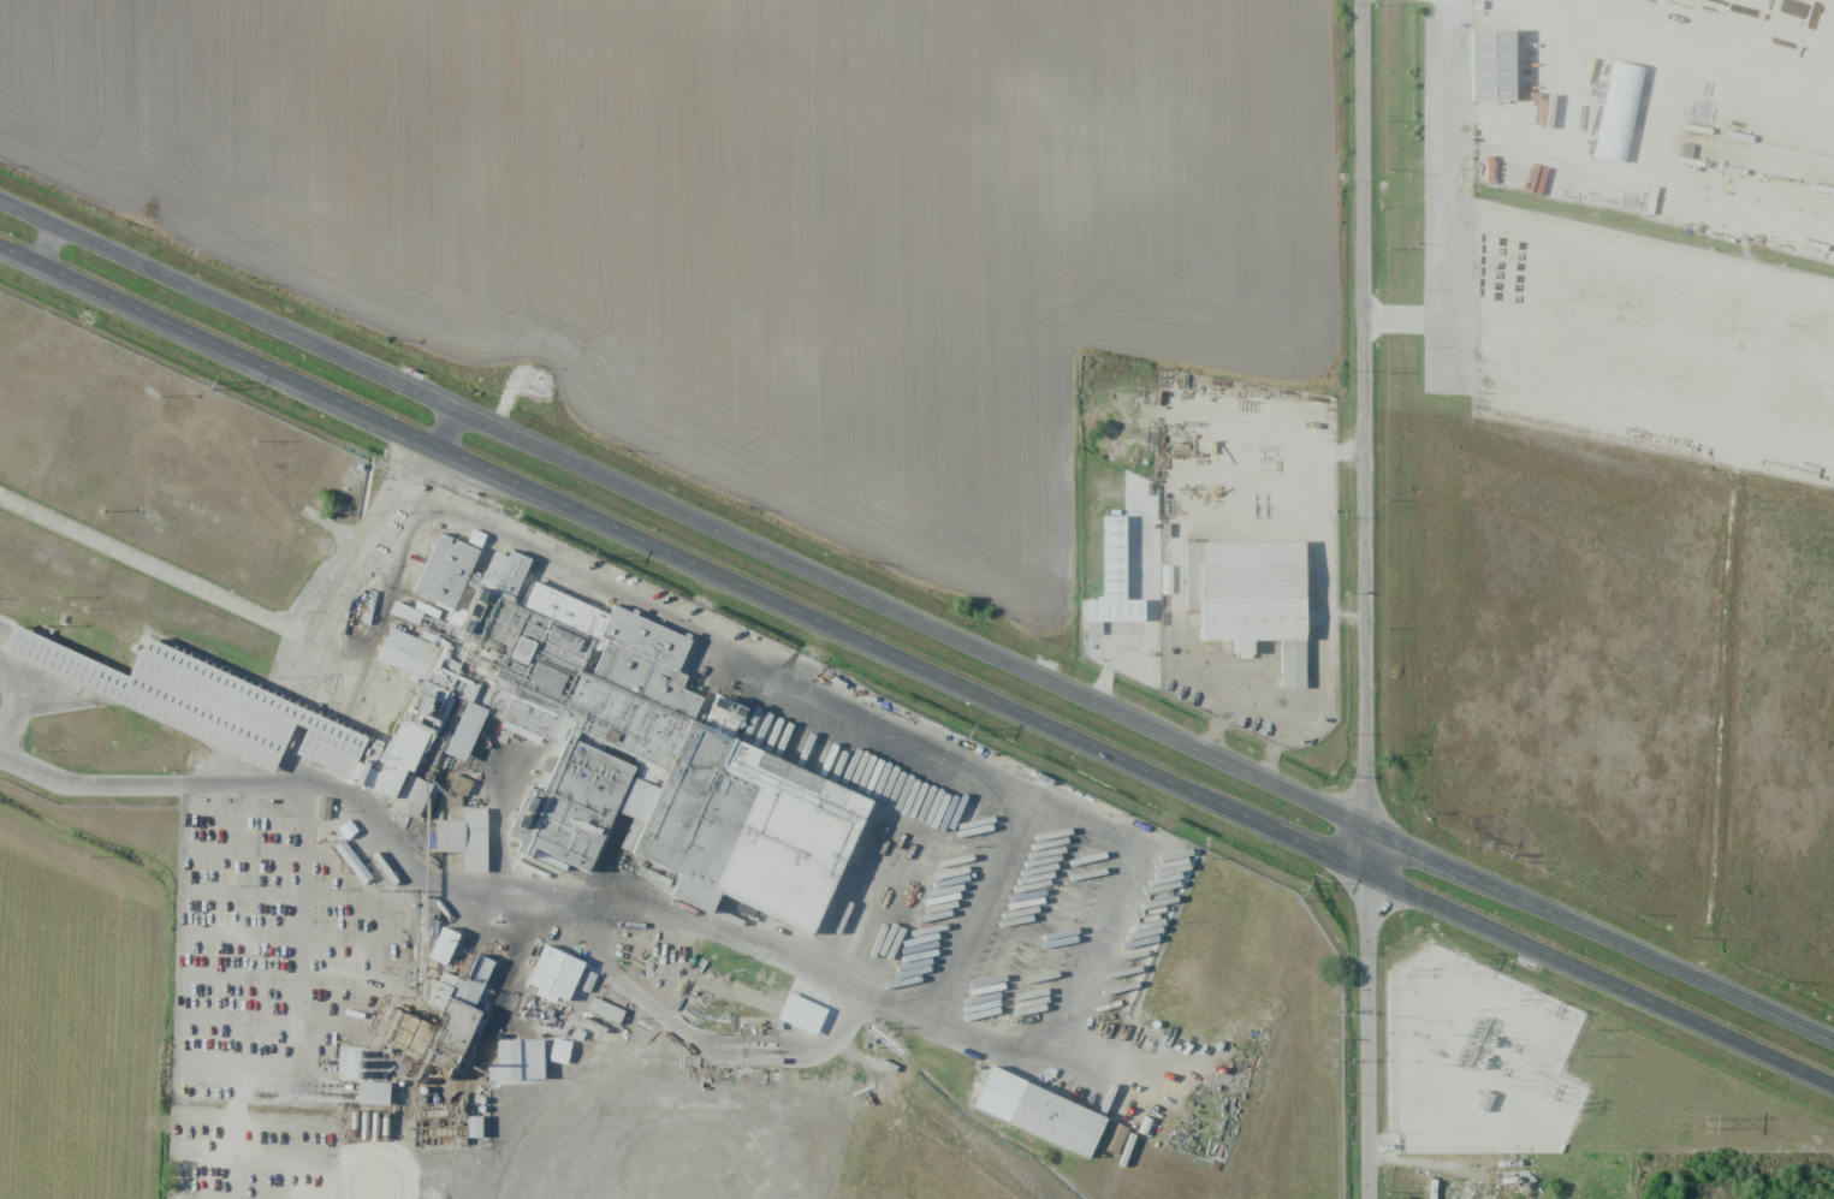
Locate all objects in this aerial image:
building: (1500, 70)
building: (1621, 117)
crop: (752, 218)
road: (43, 243)
power tower: (208, 384)
road: (445, 428)
road: (683, 514)
power tower: (583, 551)
road: (683, 559)
building: (465, 571)
building: (1112, 582)
building: (1259, 595)
road: (233, 599)
road: (1369, 599)
road: (716, 624)
road: (14, 690)
power tower: (967, 731)
building: (459, 787)
building: (411, 796)
building: (322, 808)
road: (1080, 821)
building: (464, 838)
building: (352, 861)
power tower: (1302, 886)
road: (572, 900)
road: (1602, 932)
building: (443, 945)
power tower: (1456, 962)
building: (563, 977)
road: (1601, 979)
power tower: (1517, 999)
building: (605, 1010)
building: (444, 1020)
road: (704, 1041)
power substation: (1472, 1058)
building: (517, 1061)
building: (373, 1093)
building: (1489, 1104)
power tower: (1569, 1104)
power tower: (1708, 1123)
building: (1066, 1124)
building: (474, 1127)
building: (1111, 1138)

